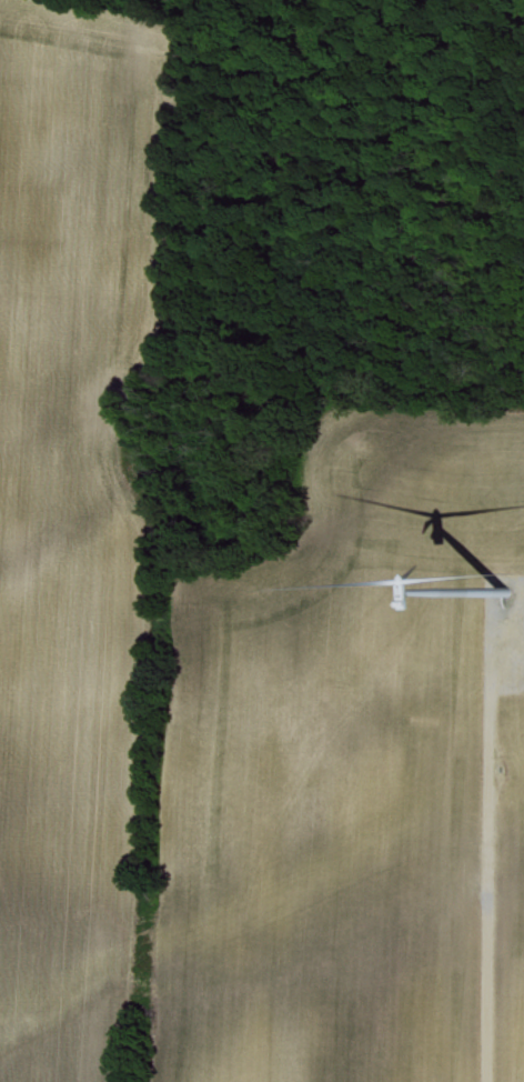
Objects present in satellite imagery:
wind turbine: (503, 589)

